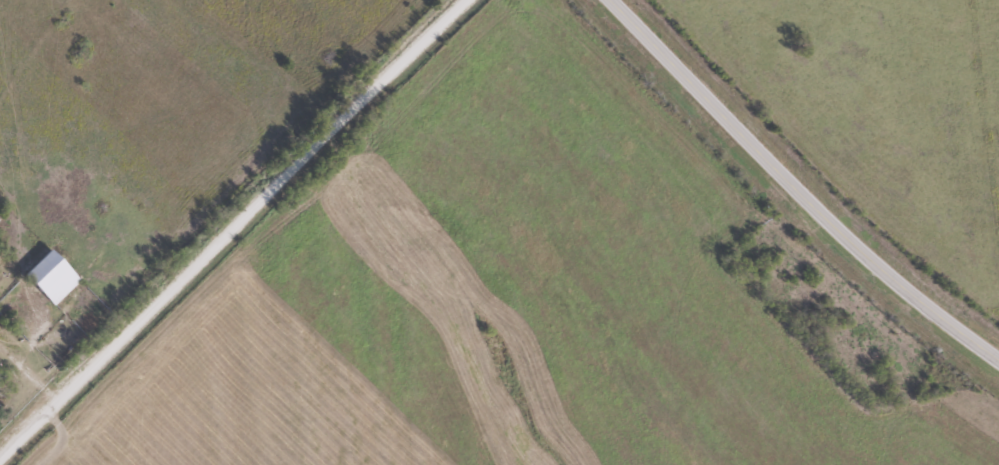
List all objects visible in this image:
road: (795, 190)
road: (233, 226)
building: (48, 279)

